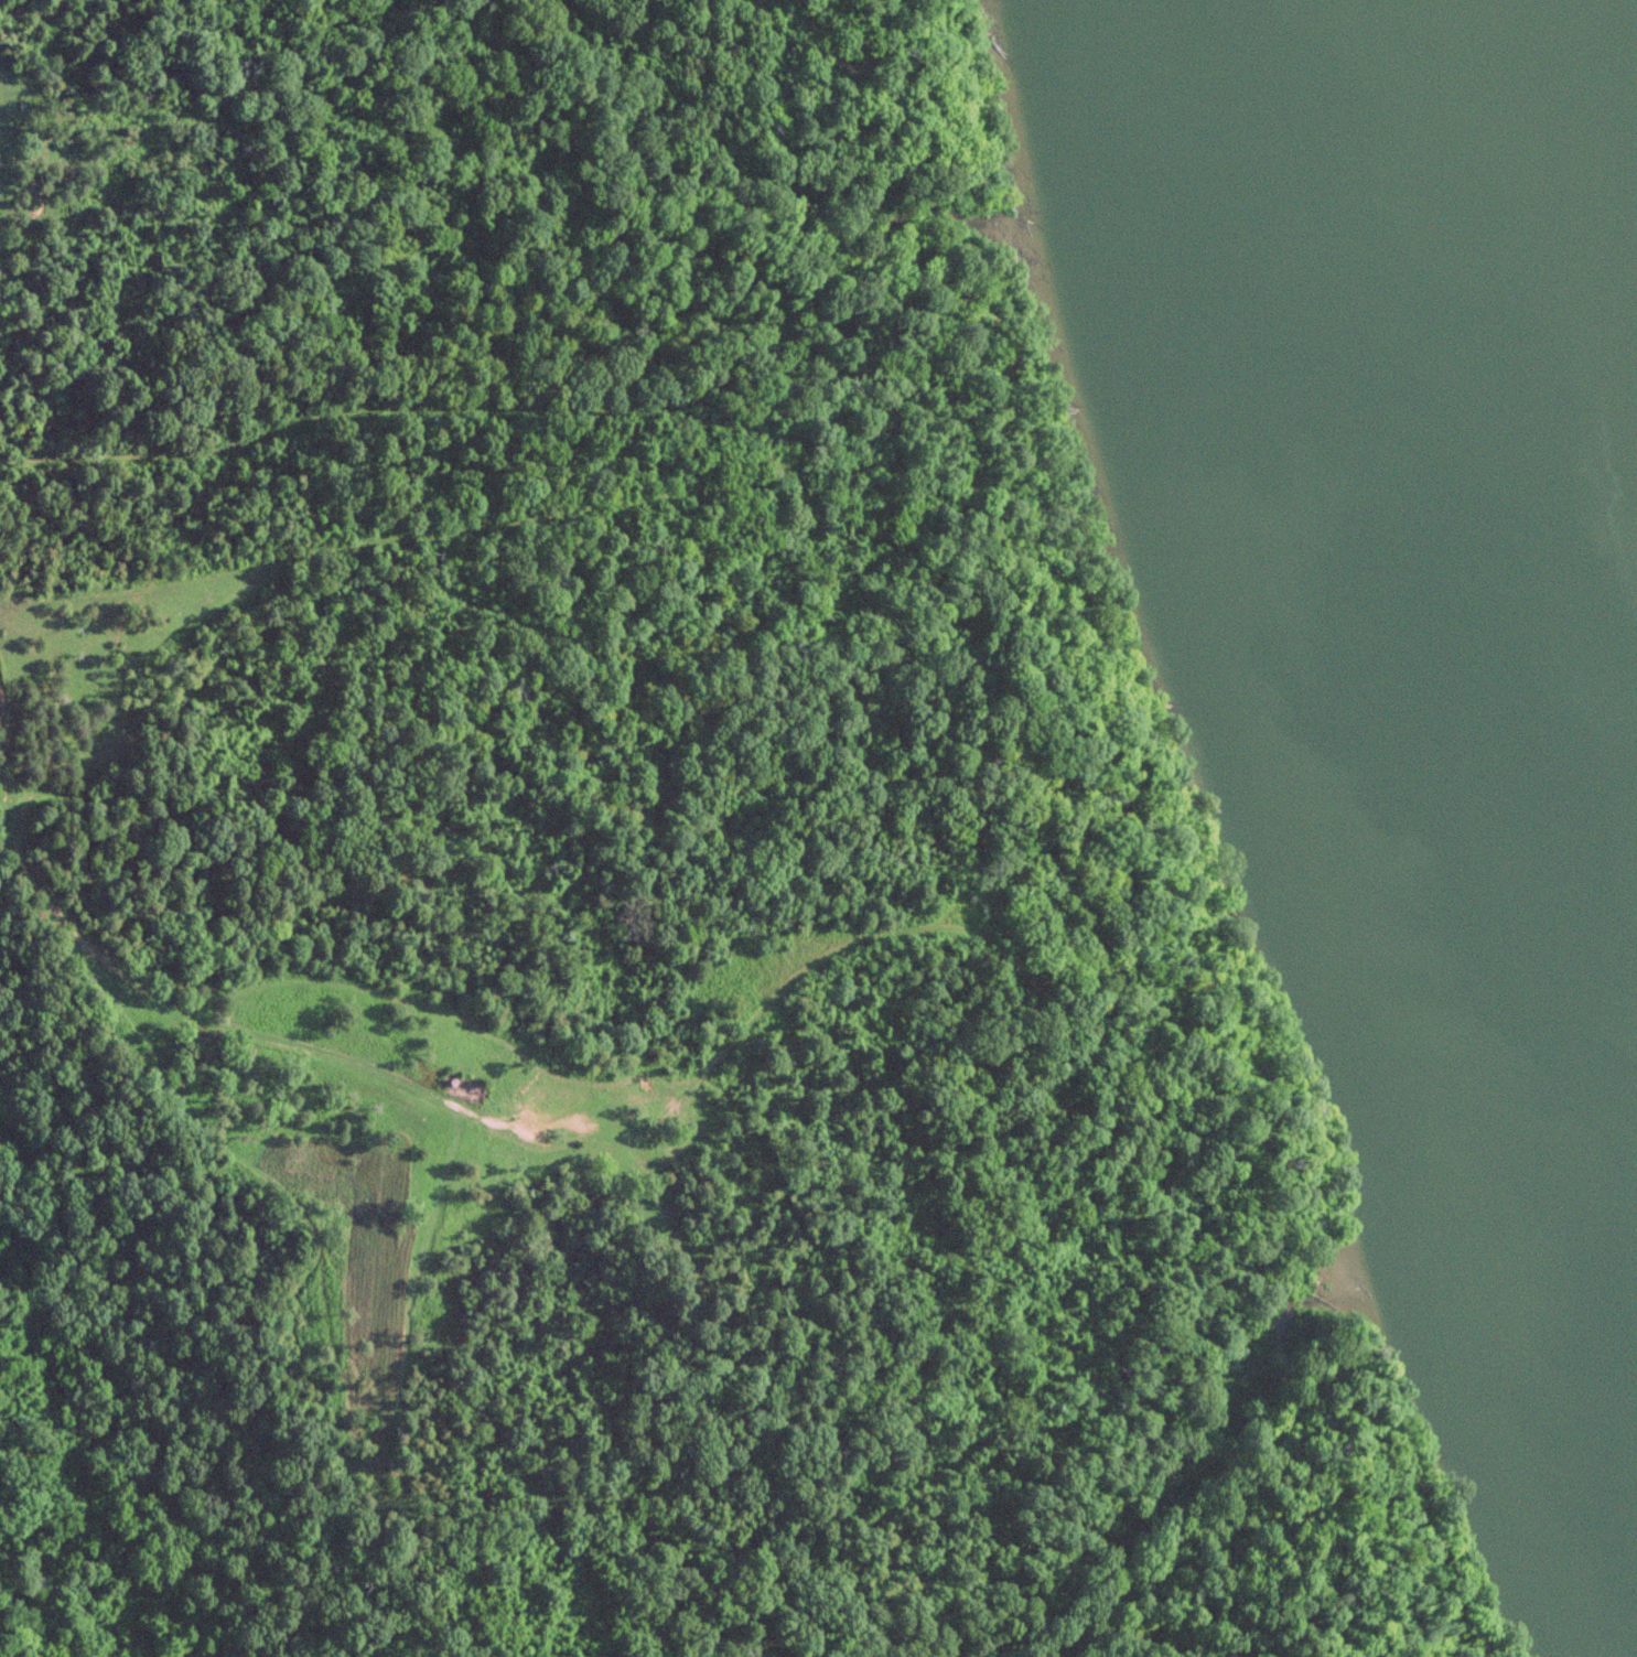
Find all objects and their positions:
river: (1605, 95)

